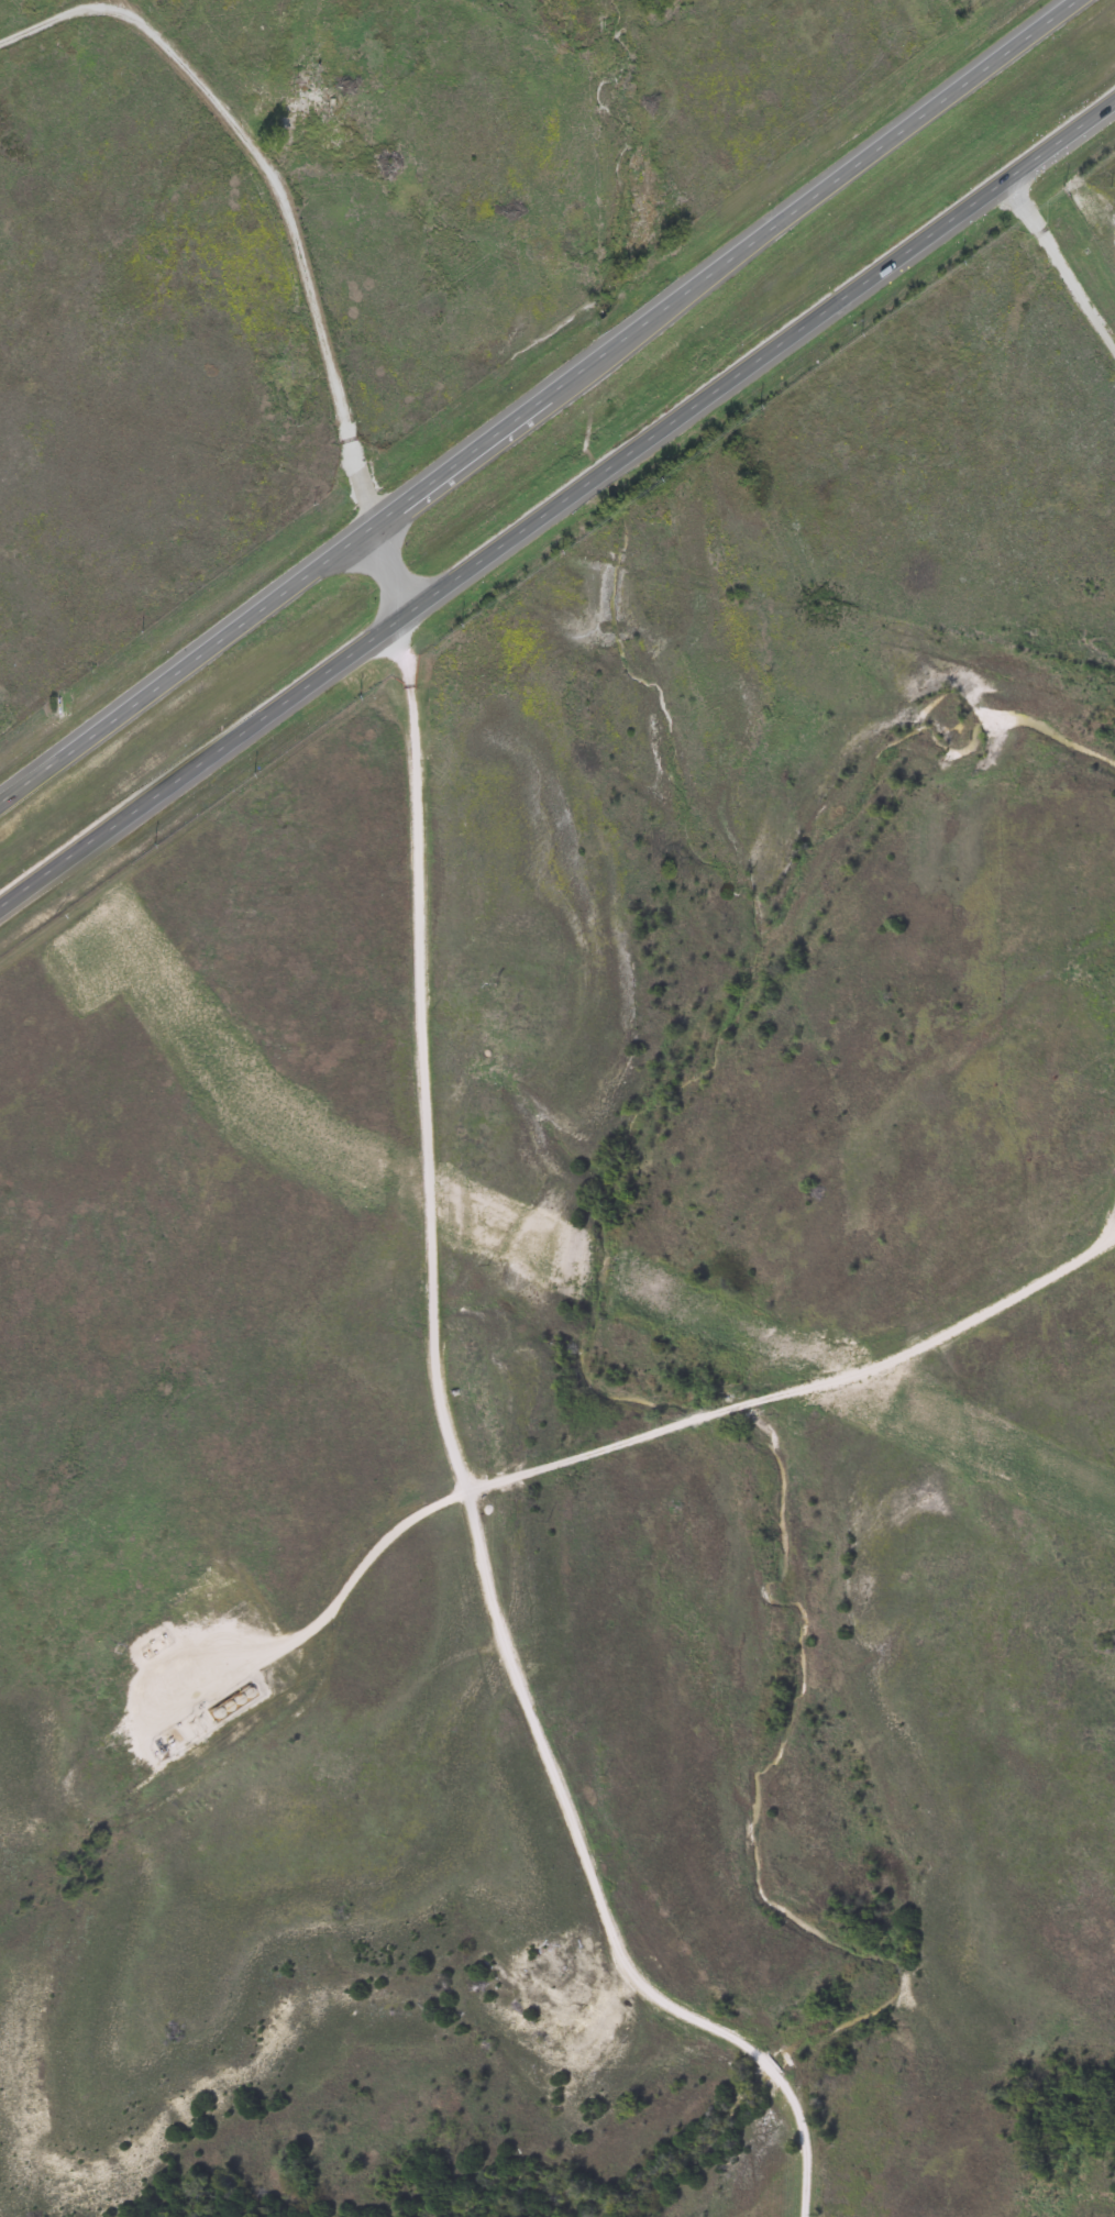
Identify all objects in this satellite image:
road: (271, 179)
road: (1058, 269)
road: (538, 399)
road: (556, 501)
road: (383, 572)
road: (715, 1413)
road: (457, 1473)
road: (84, 1816)

